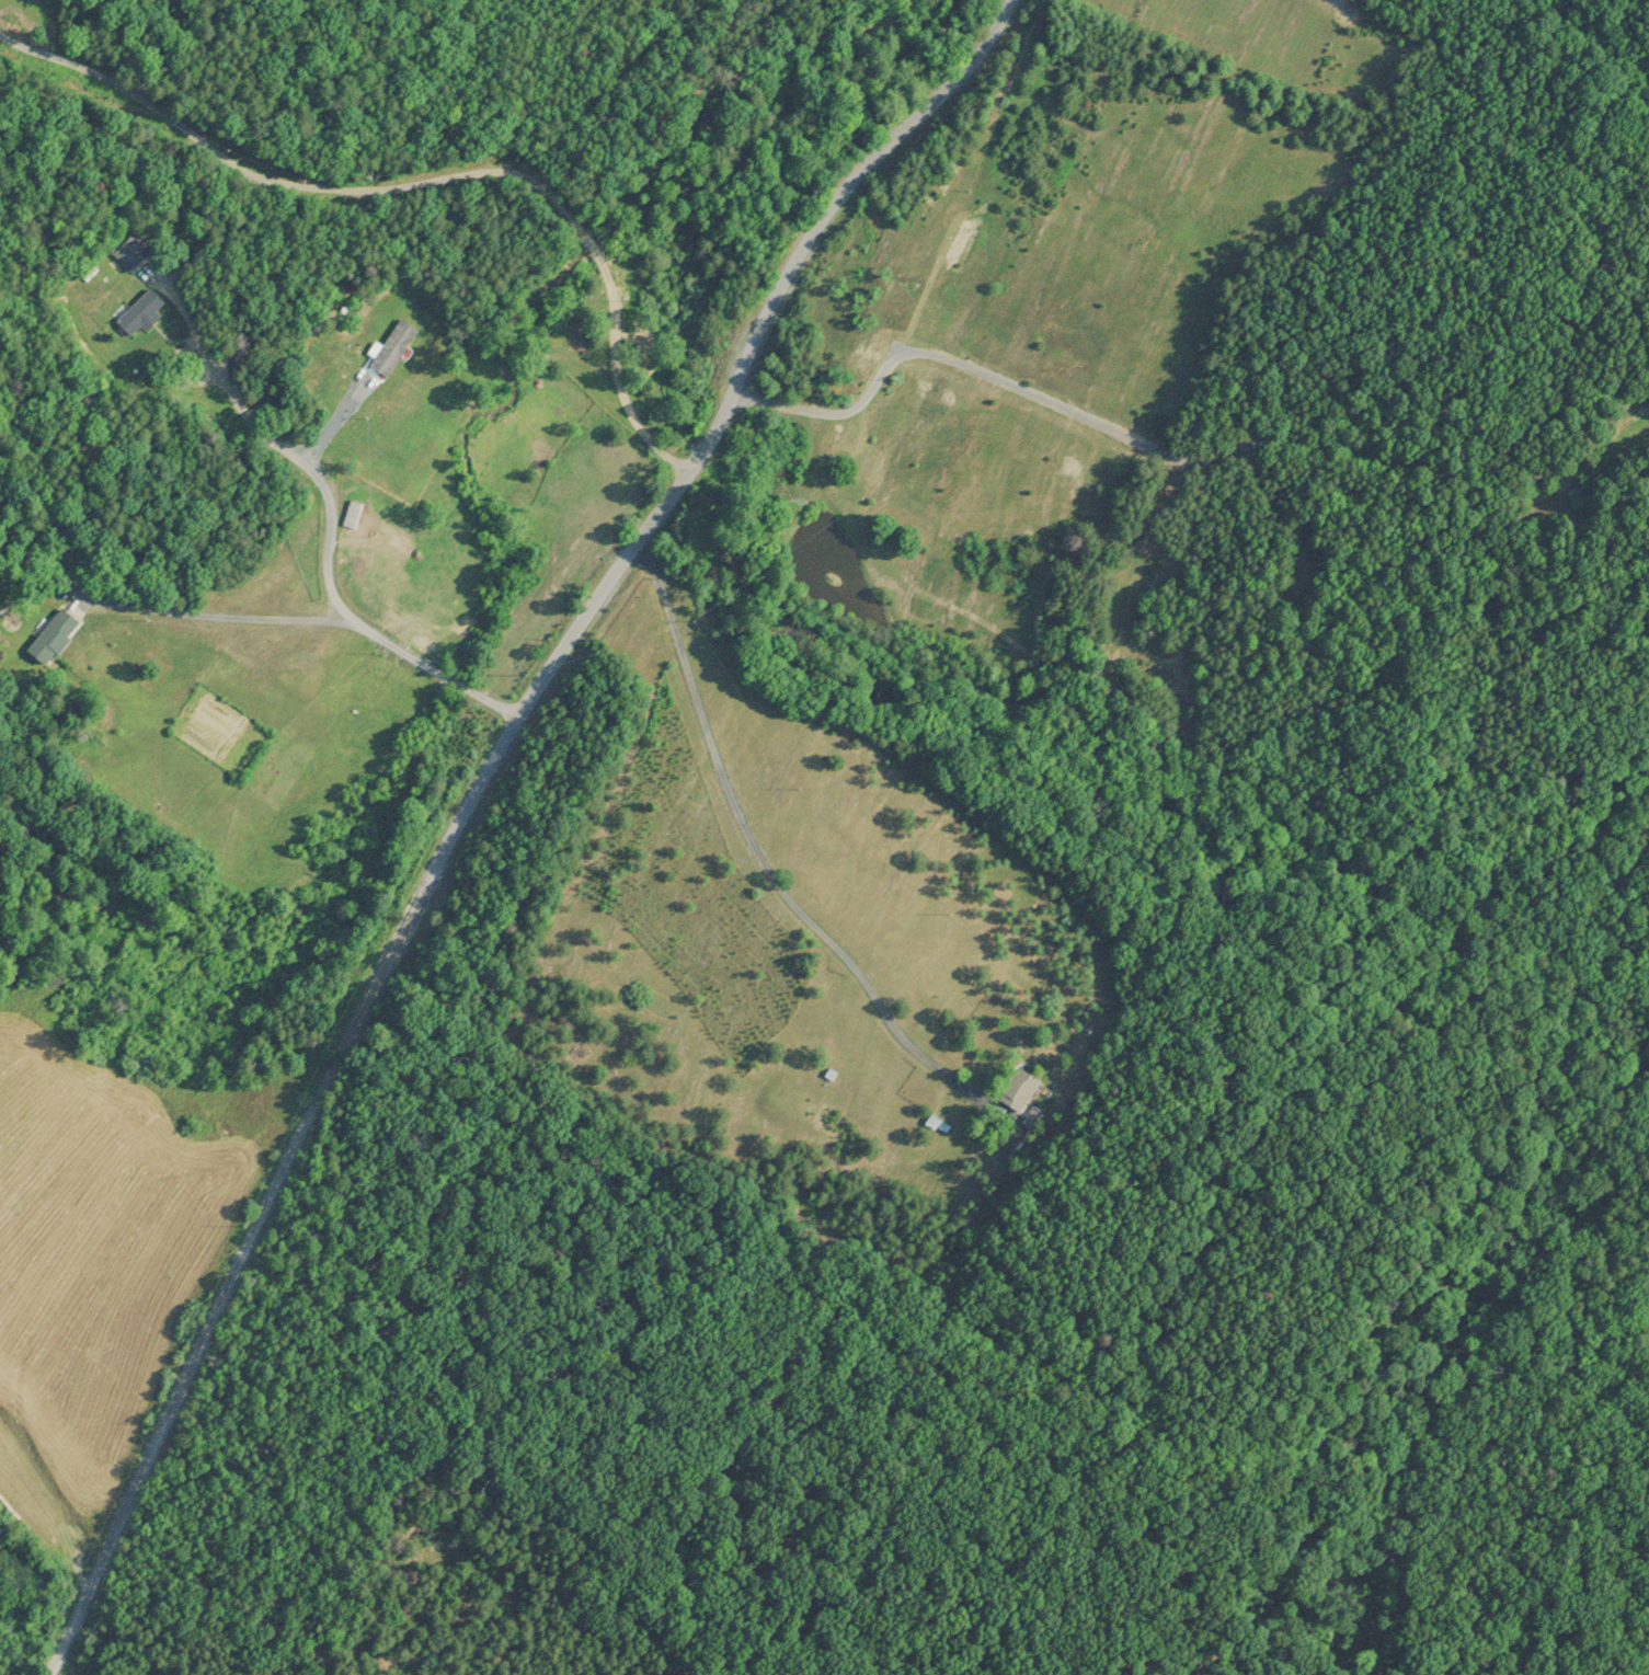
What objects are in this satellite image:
road: (611, 95)
road: (289, 187)
building: (135, 249)
road: (593, 249)
building: (145, 310)
building: (397, 344)
road: (618, 376)
road: (720, 425)
road: (1125, 431)
road: (313, 469)
building: (1577, 493)
building: (354, 513)
road: (277, 617)
building: (55, 633)
road: (450, 677)
road: (489, 700)
road: (759, 852)
building: (1021, 1086)
road: (240, 1267)

